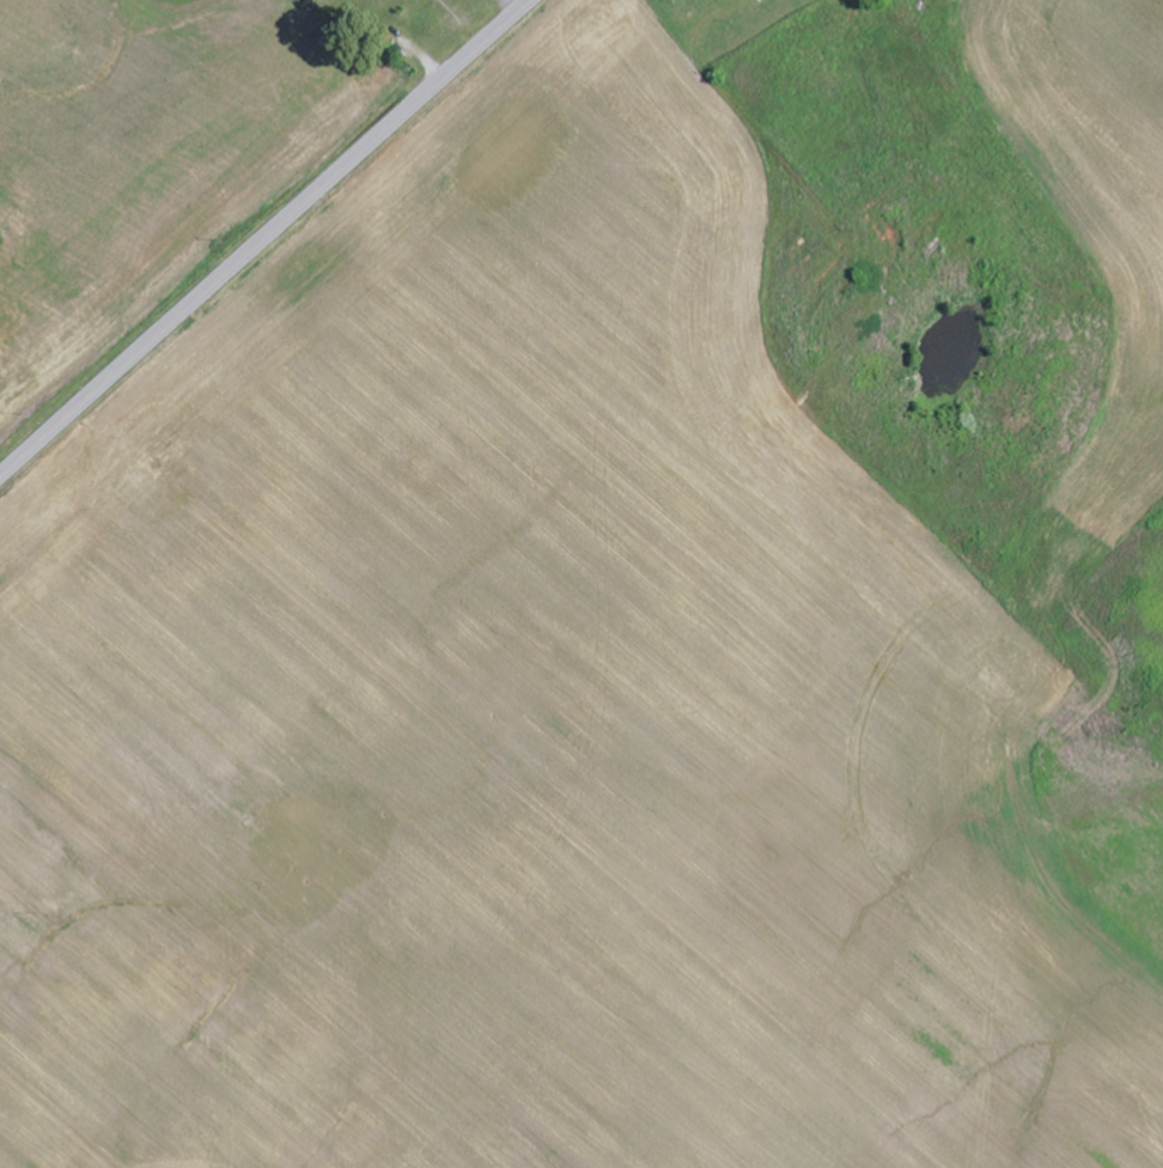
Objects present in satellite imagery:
road: (266, 237)

